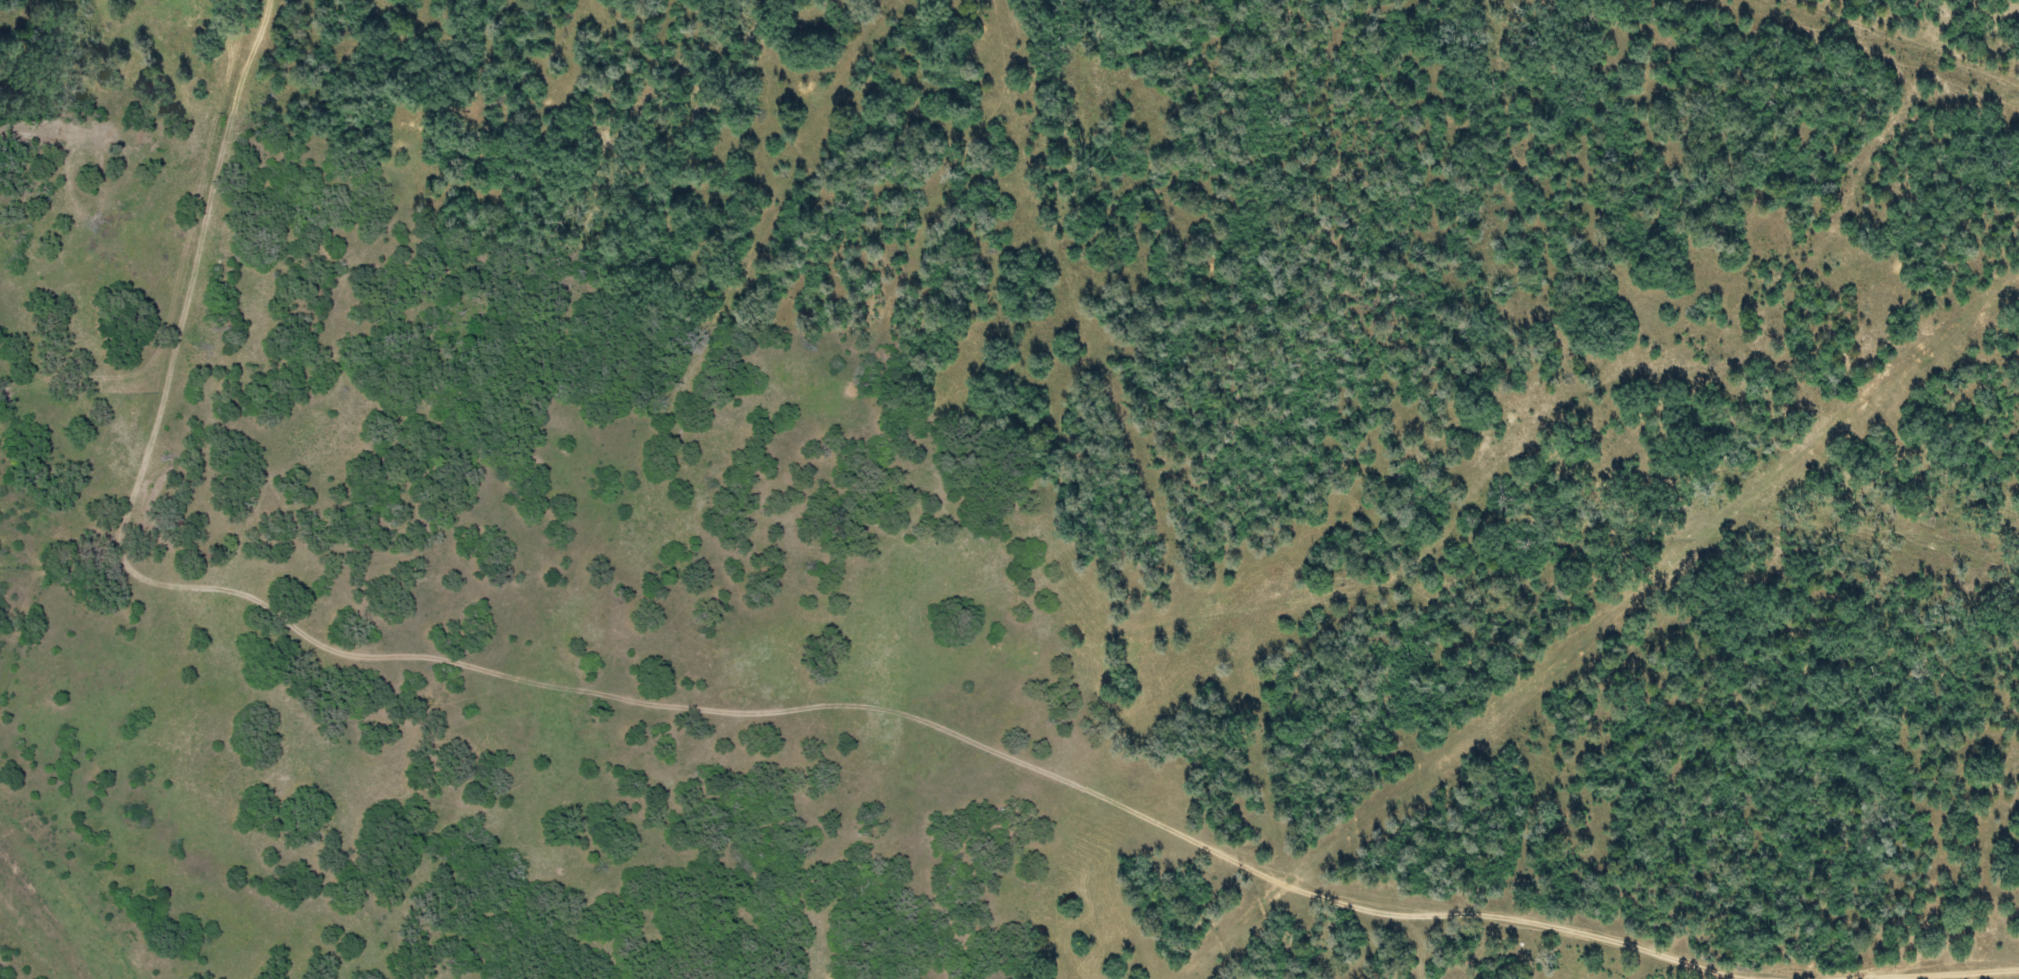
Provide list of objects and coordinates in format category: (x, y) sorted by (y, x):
road: (81, 542)

